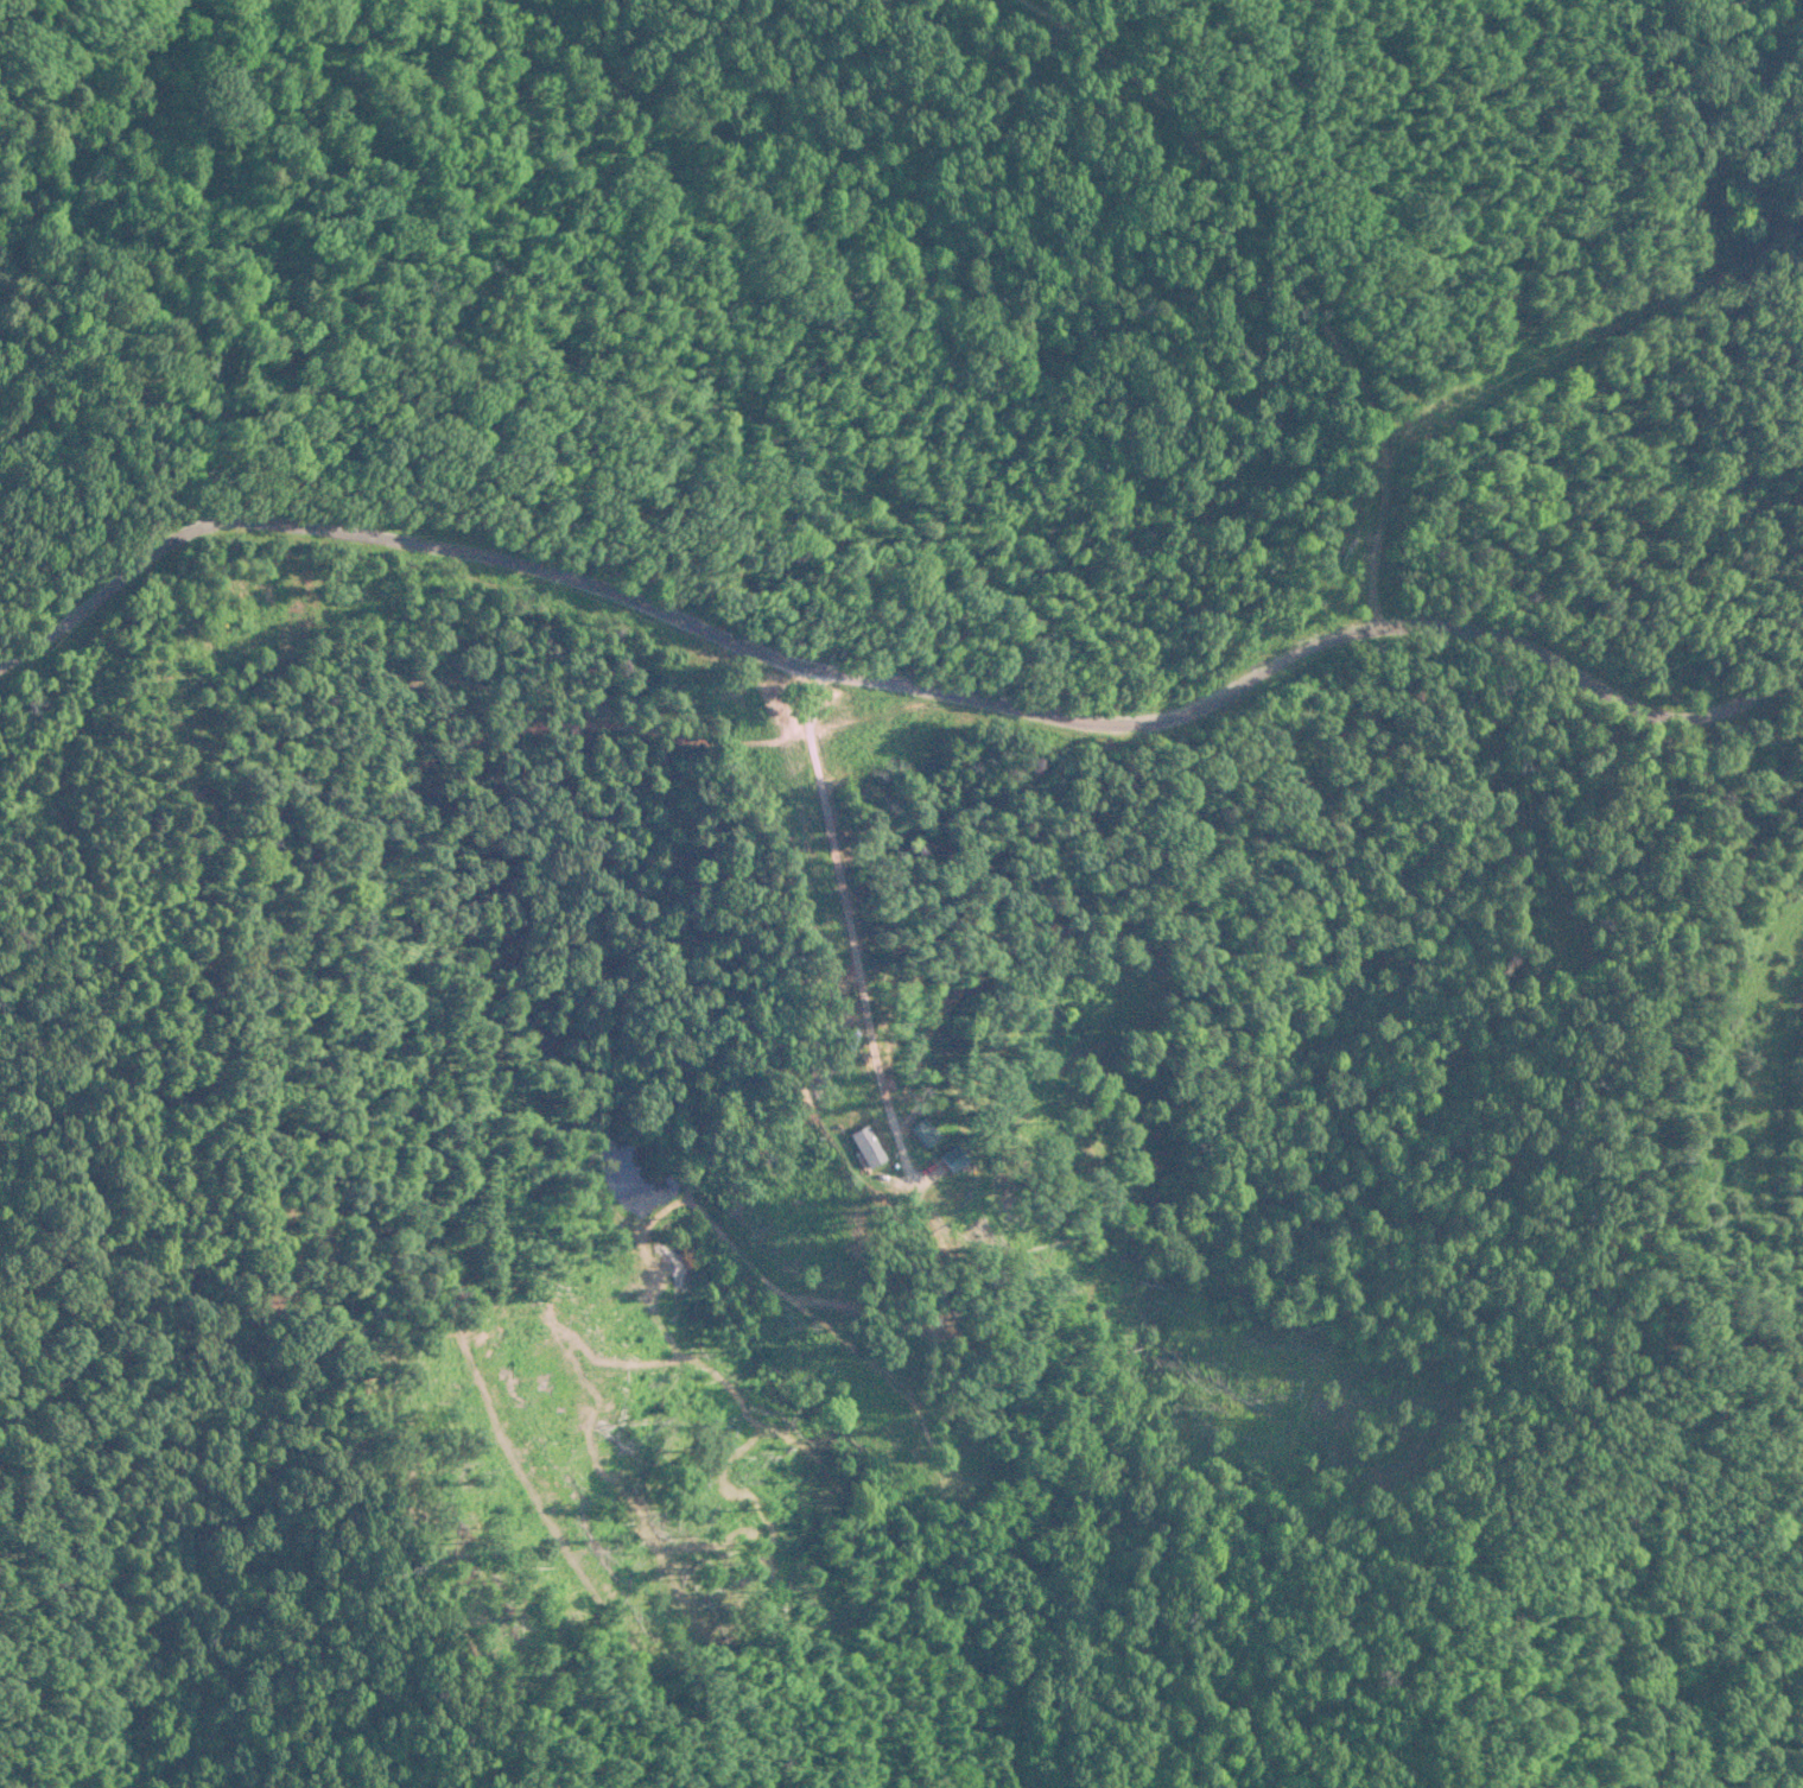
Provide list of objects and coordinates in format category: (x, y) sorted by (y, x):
road: (882, 685)
building: (925, 1134)

